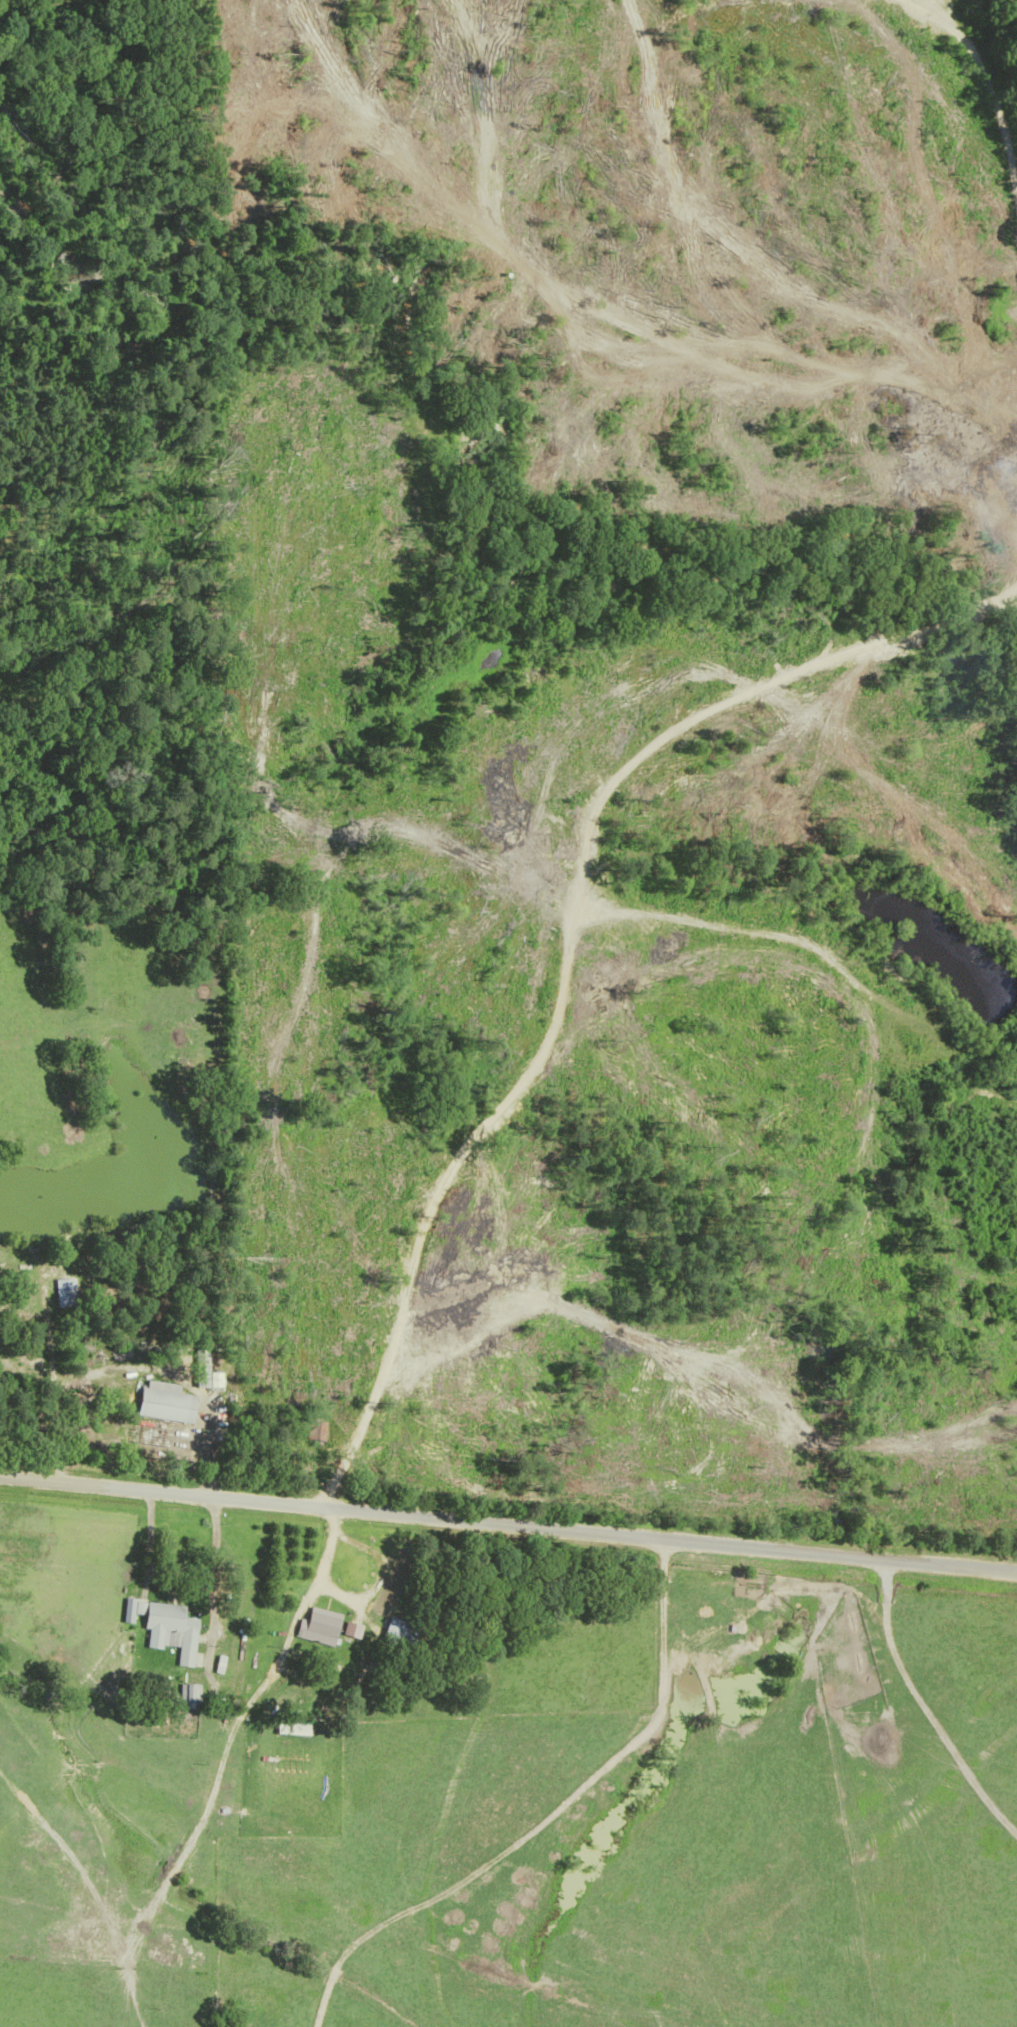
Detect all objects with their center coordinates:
road: (723, 713)
building: (56, 1293)
building: (160, 1408)
road: (508, 1526)
building: (315, 1630)
building: (167, 1633)
building: (396, 1635)
building: (186, 1696)
road: (551, 1816)

